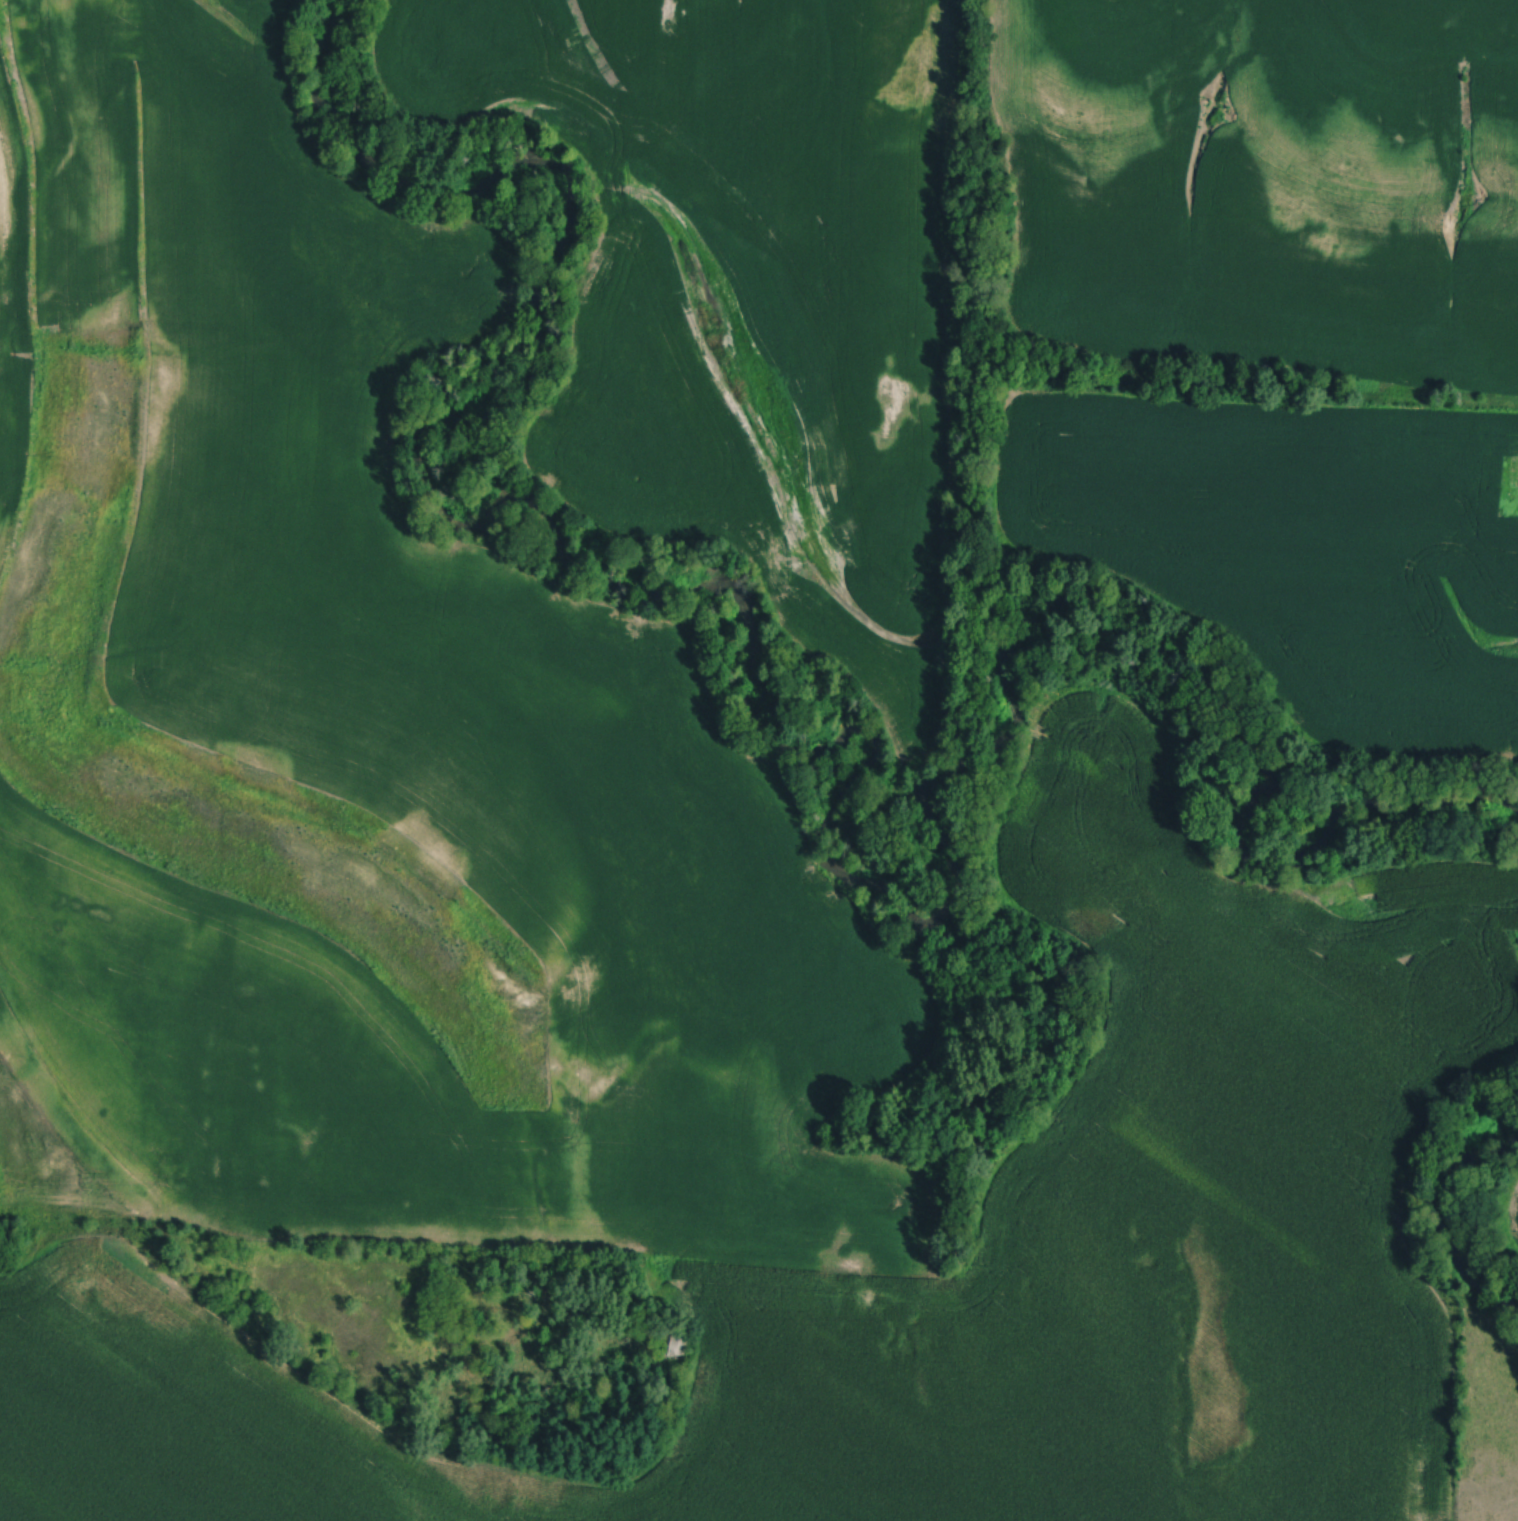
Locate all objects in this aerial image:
river: (539, 339)
river: (1021, 651)
river: (1442, 1216)
building: (680, 1347)

